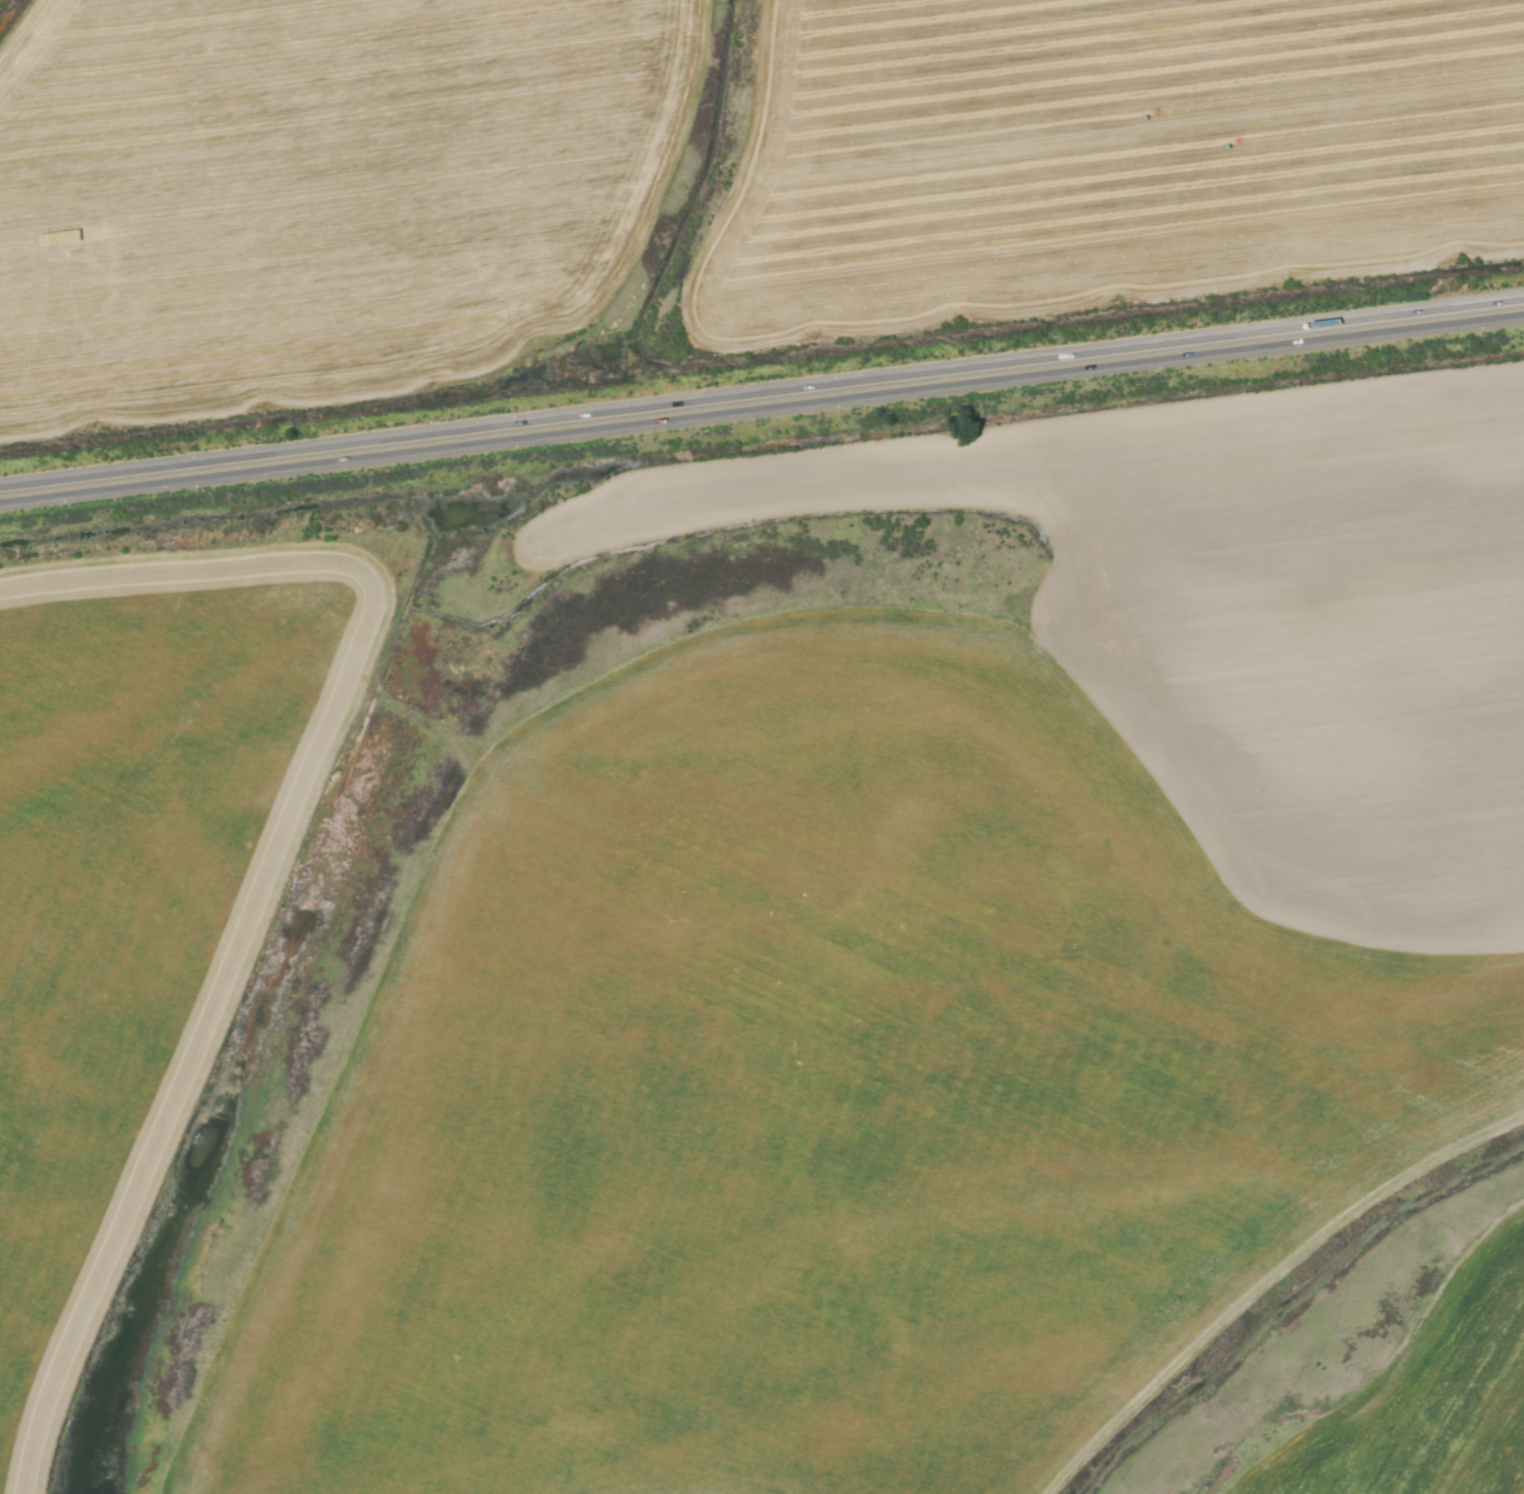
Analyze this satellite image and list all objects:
road: (762, 398)
road: (762, 413)

